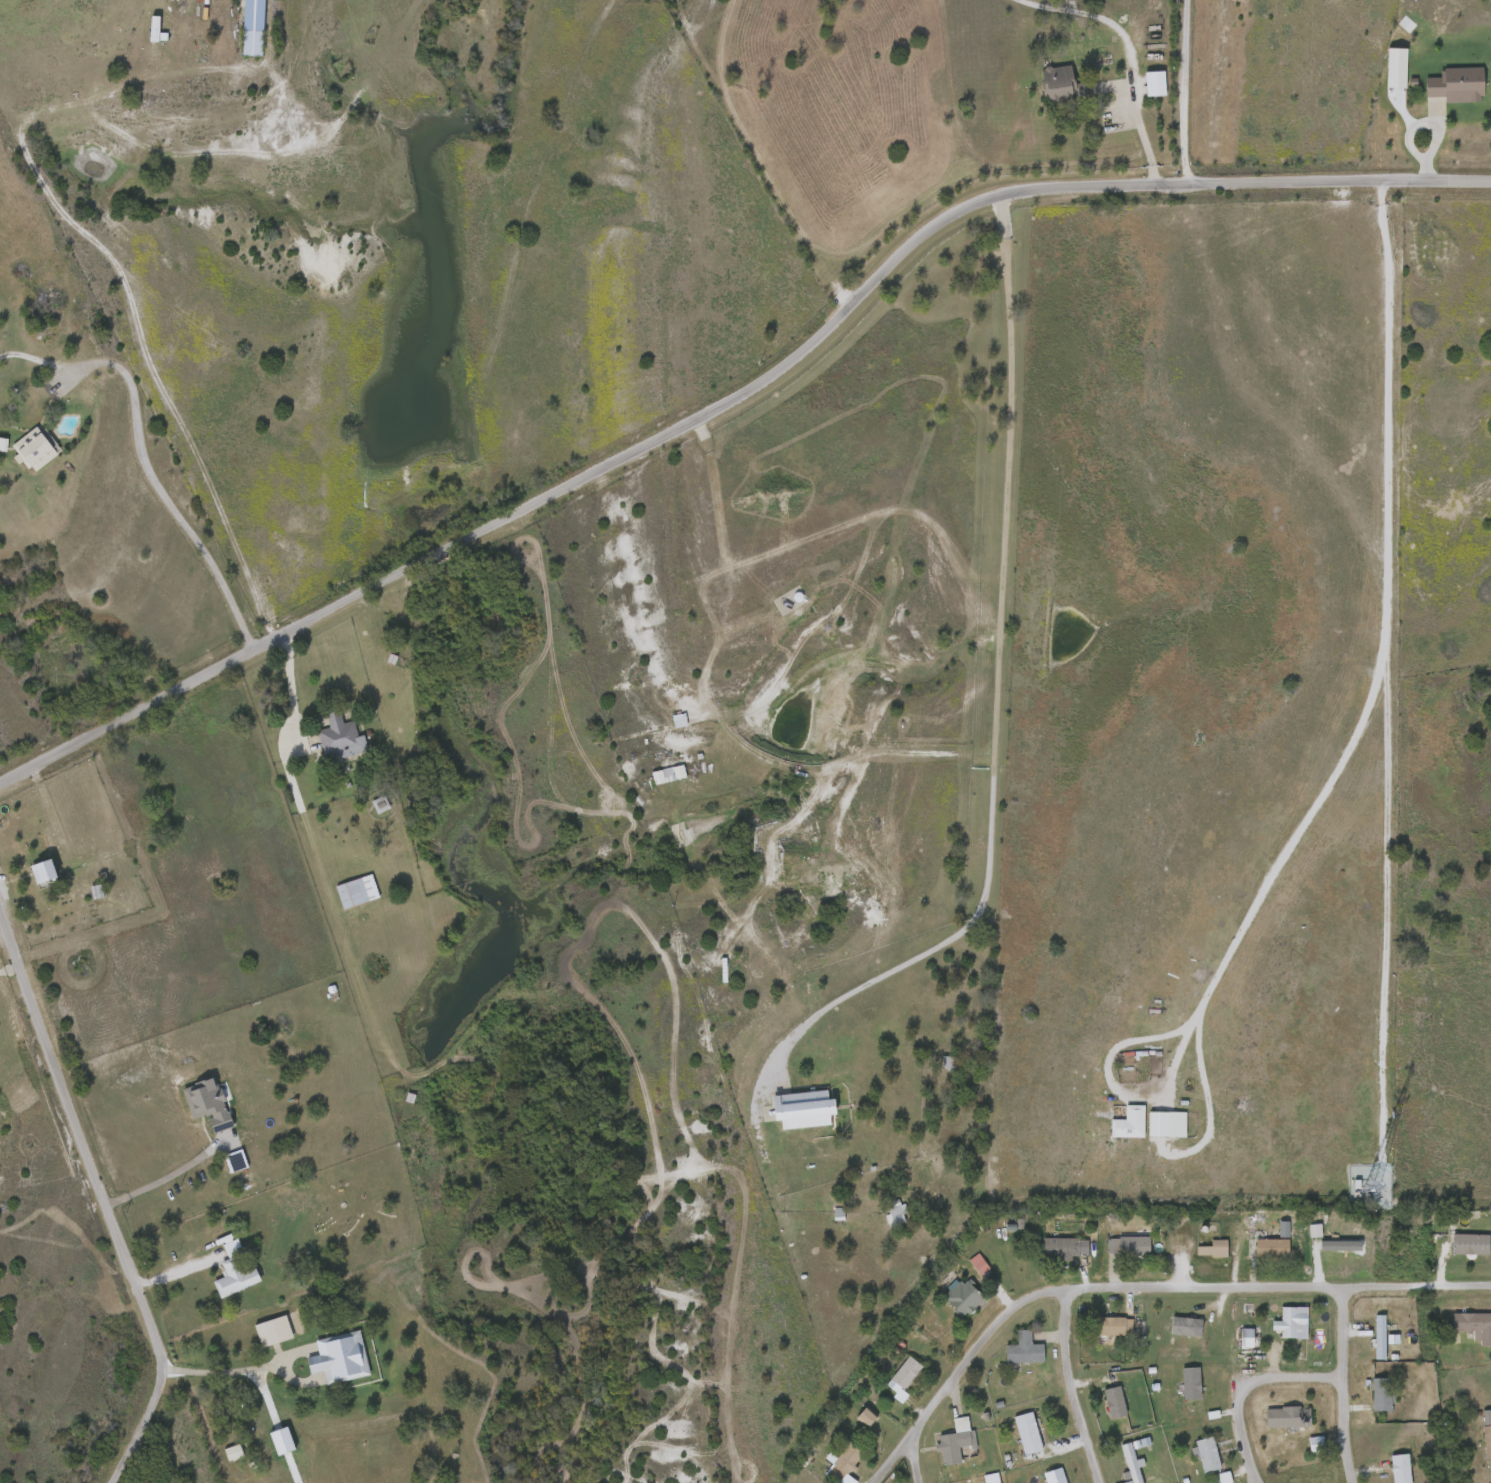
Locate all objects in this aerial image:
building: (252, 27)
building: (154, 29)
road: (1125, 75)
building: (1155, 82)
building: (1063, 83)
building: (1458, 83)
road: (1186, 91)
road: (118, 265)
road: (736, 396)
building: (32, 448)
road: (137, 456)
road: (1382, 657)
road: (989, 684)
road: (292, 689)
building: (340, 737)
building: (668, 773)
road: (45, 806)
building: (43, 872)
building: (356, 891)
road: (1383, 909)
road: (7, 965)
road: (1105, 1048)
building: (949, 1062)
building: (803, 1108)
building: (1129, 1121)
building: (1167, 1122)
road: (166, 1175)
road: (98, 1203)
building: (895, 1214)
building: (1336, 1242)
building: (1471, 1242)
building: (1128, 1244)
building: (1065, 1246)
building: (1268, 1246)
building: (1213, 1247)
building: (234, 1271)
road: (1134, 1285)
building: (962, 1296)
building: (1289, 1321)
building: (1115, 1324)
building: (1186, 1325)
building: (1474, 1325)
building: (273, 1330)
building: (1380, 1335)
building: (1024, 1347)
building: (339, 1356)
road: (217, 1364)
building: (905, 1373)
building: (1191, 1381)
road: (1239, 1384)
road: (1065, 1385)
road: (1339, 1385)
building: (1381, 1393)
building: (1115, 1401)
building: (1288, 1415)
building: (1028, 1432)
building: (955, 1439)
building: (1487, 1439)
building: (1208, 1453)
road: (909, 1459)
building: (1131, 1462)
building: (844, 1464)
building: (1400, 1468)
building: (1055, 1475)
building: (991, 1477)

